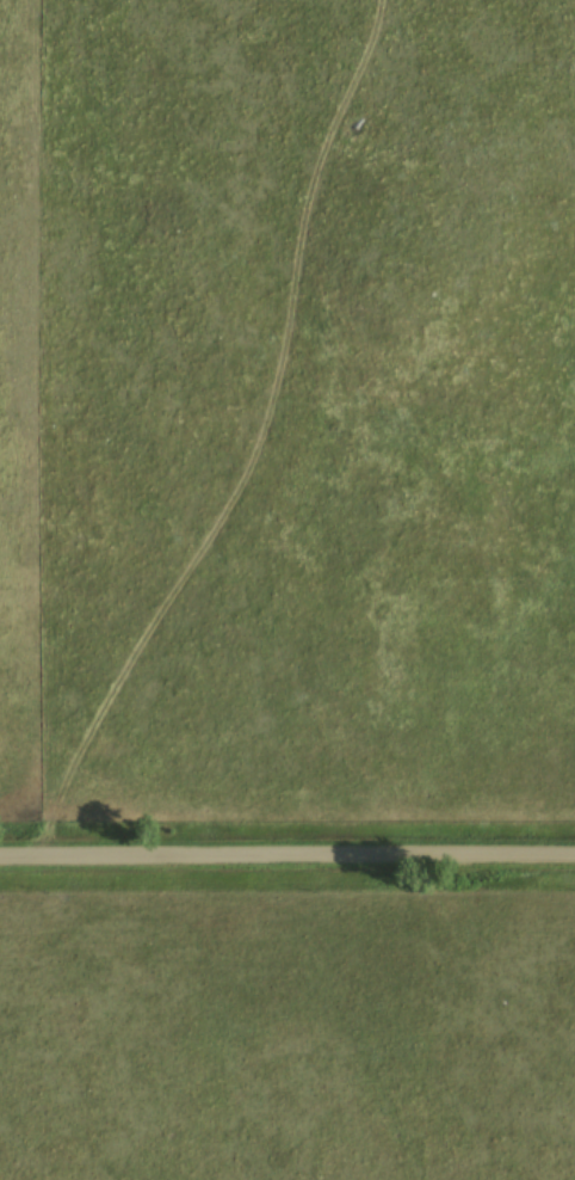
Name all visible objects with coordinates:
road: (287, 865)

